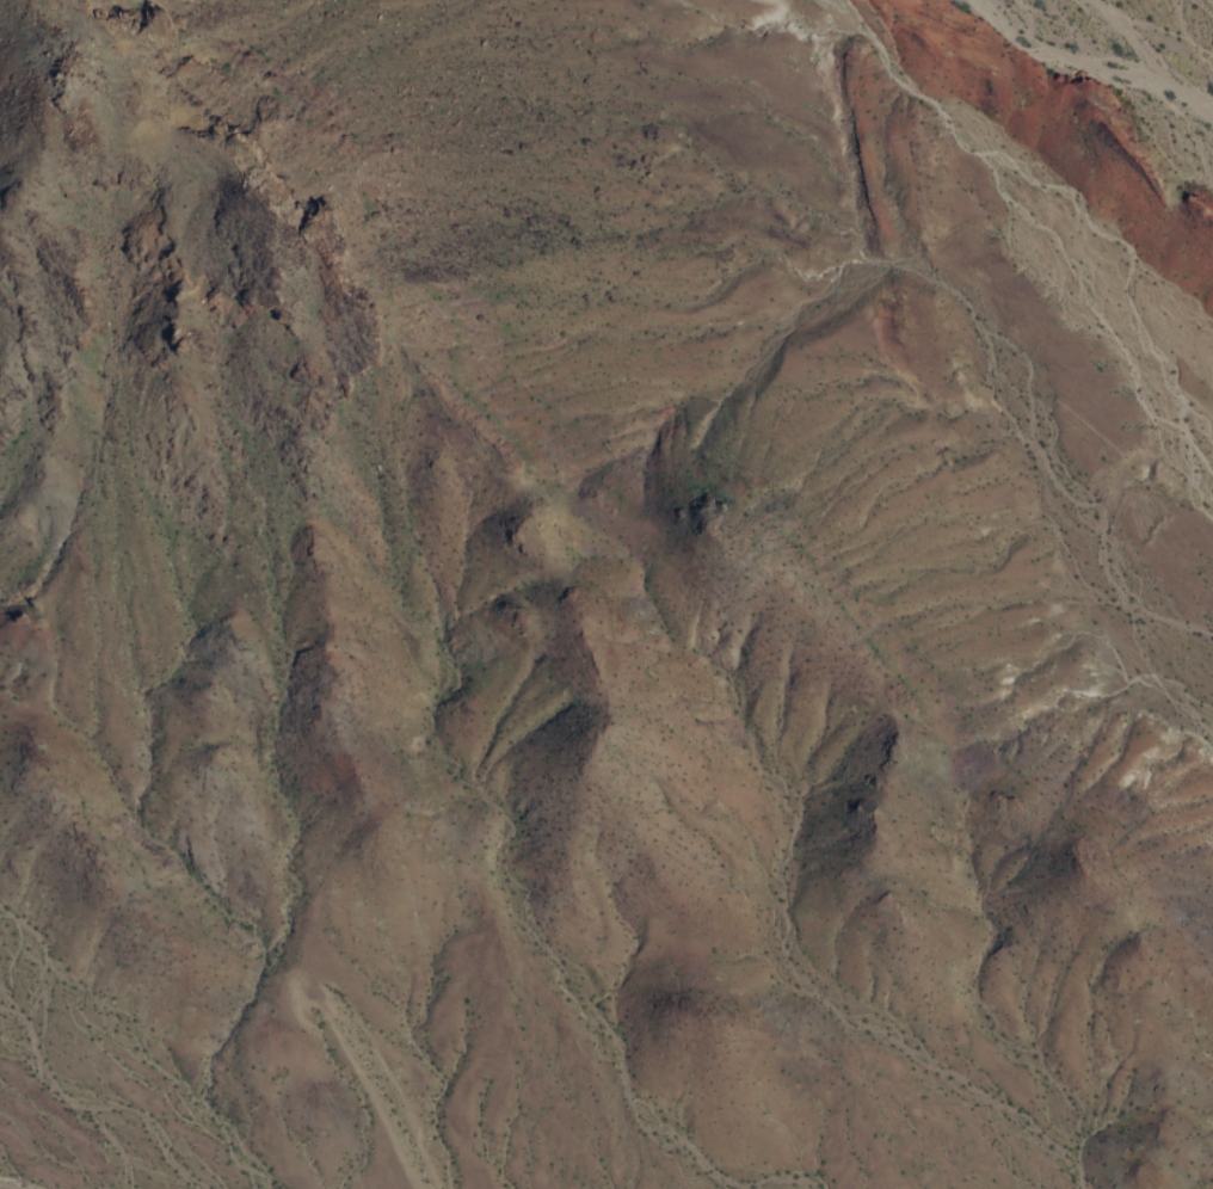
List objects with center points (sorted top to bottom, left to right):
road: (1037, 119)

